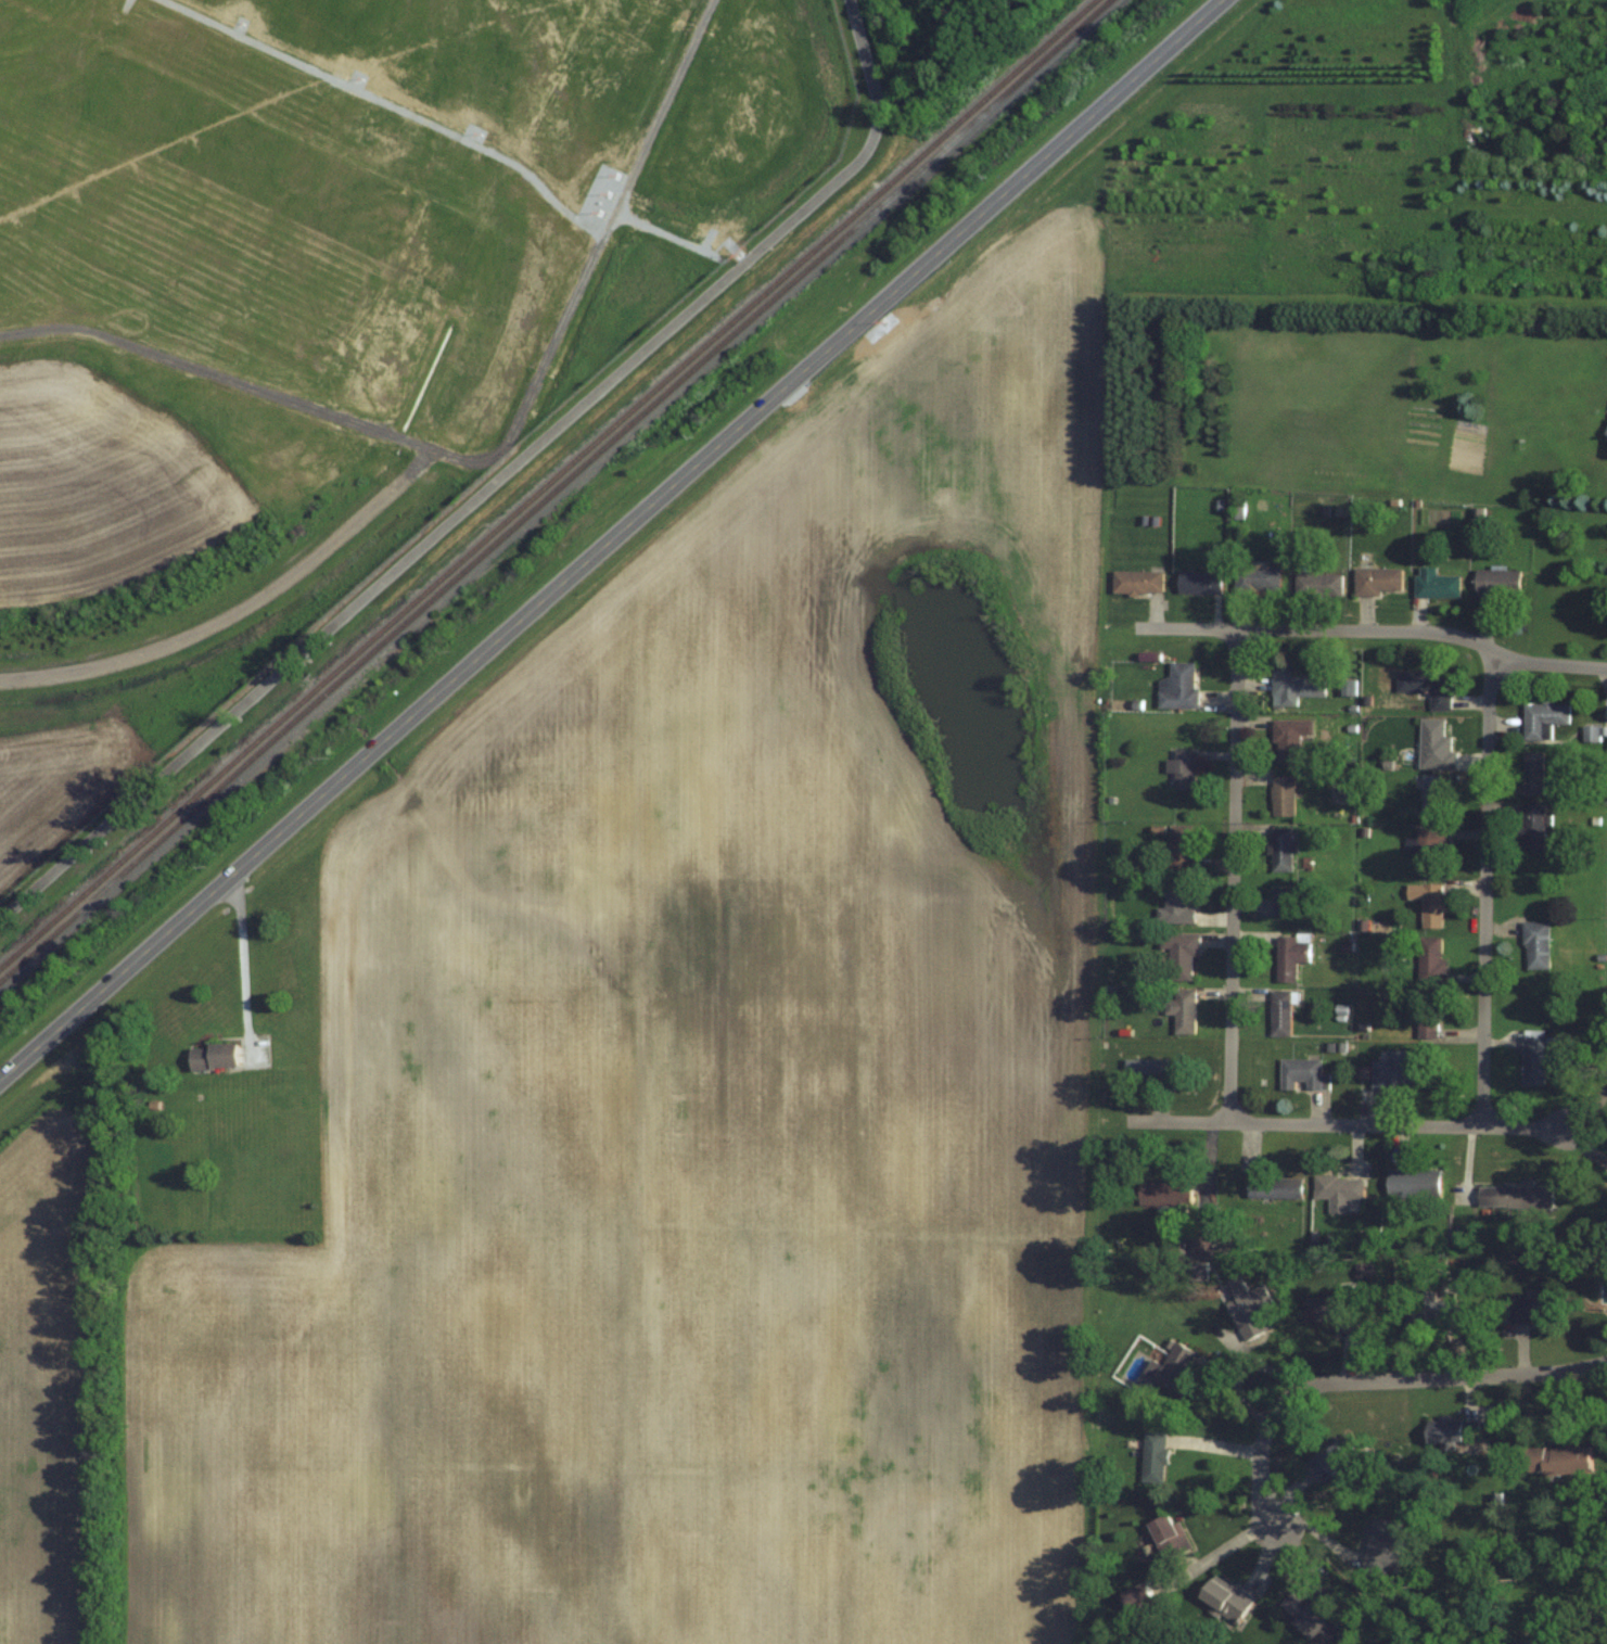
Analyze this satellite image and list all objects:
airport: (333, 291)
building: (1606, 436)
road: (429, 455)
road: (493, 484)
railway: (547, 484)
railway: (553, 490)
building: (1237, 509)
road: (610, 538)
building: (1255, 578)
building: (1136, 581)
building: (1376, 581)
building: (1198, 582)
building: (1495, 582)
building: (1433, 583)
building: (1316, 585)
road: (1376, 630)
building: (1177, 686)
building: (1294, 686)
building: (1424, 687)
building: (1542, 716)
building: (1287, 739)
building: (1434, 744)
building: (1181, 768)
building: (1532, 772)
building: (1281, 794)
building: (1430, 796)
building: (1532, 826)
building: (1179, 848)
building: (1279, 849)
building: (1429, 851)
road: (1233, 874)
road: (1487, 891)
building: (1177, 902)
building: (1281, 902)
building: (1431, 905)
building: (1535, 944)
building: (1179, 954)
road: (248, 955)
building: (1289, 956)
building: (1428, 960)
building: (1181, 1010)
building: (1279, 1012)
building: (1426, 1015)
building: (215, 1055)
building: (1535, 1056)
building: (1155, 1071)
building: (1395, 1071)
building: (1301, 1073)
road: (1350, 1123)
building: (1412, 1183)
building: (1274, 1186)
building: (1163, 1190)
building: (1337, 1190)
building: (1514, 1195)
building: (1606, 1219)
building: (1199, 1238)
building: (1248, 1308)
building: (1331, 1308)
building: (1530, 1308)
building: (1424, 1314)
building: (1169, 1371)
road: (1385, 1380)
building: (1452, 1428)
building: (1152, 1456)
building: (1329, 1458)
building: (1557, 1460)
building: (1166, 1535)
building: (1379, 1544)
building: (1135, 1596)
building: (1223, 1596)
building: (1311, 1615)

